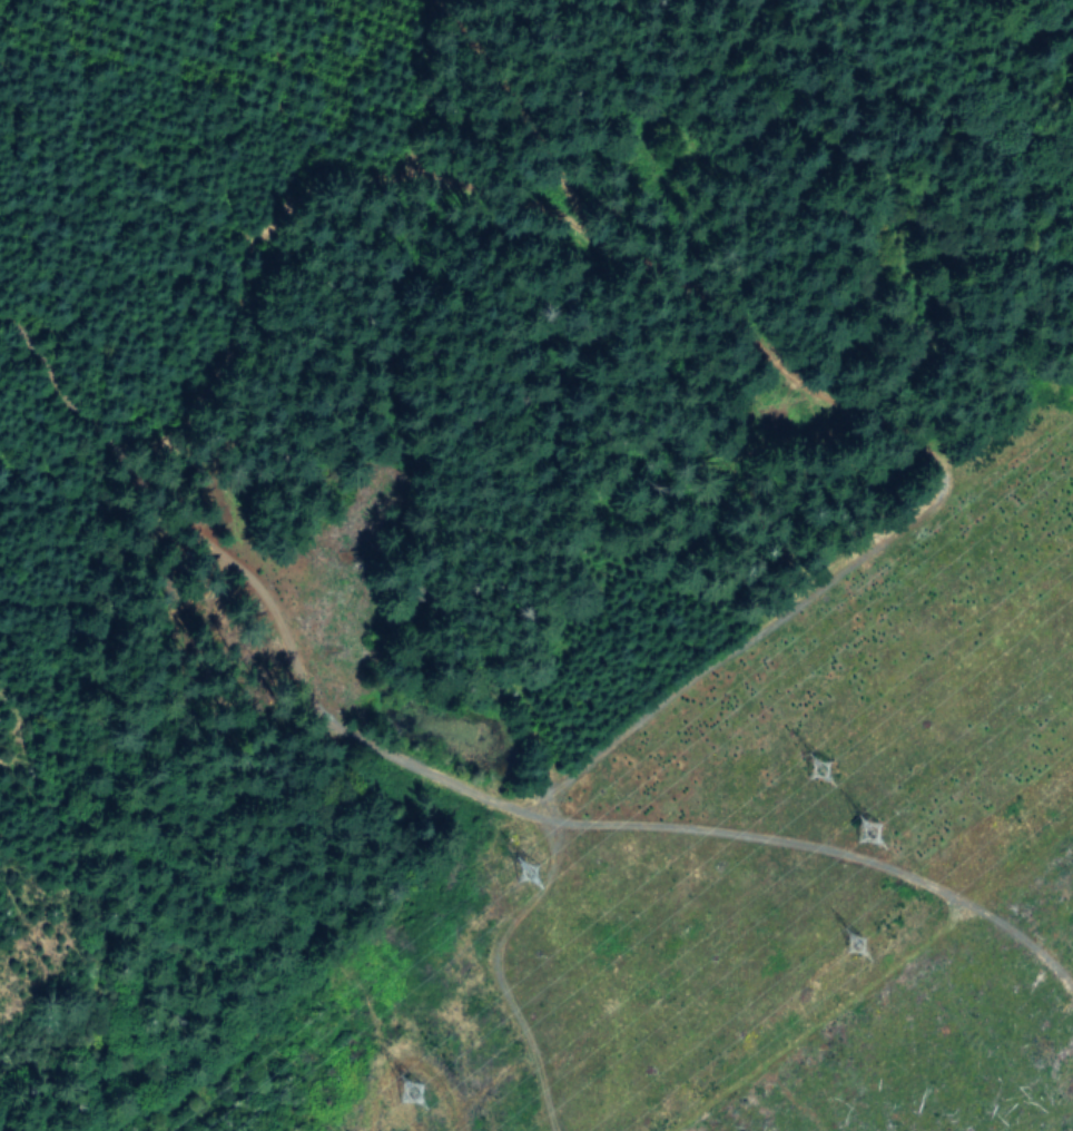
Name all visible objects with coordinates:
power tower: (819, 765)
power tower: (865, 820)
power tower: (524, 864)
power tower: (859, 944)
power tower: (413, 1093)

